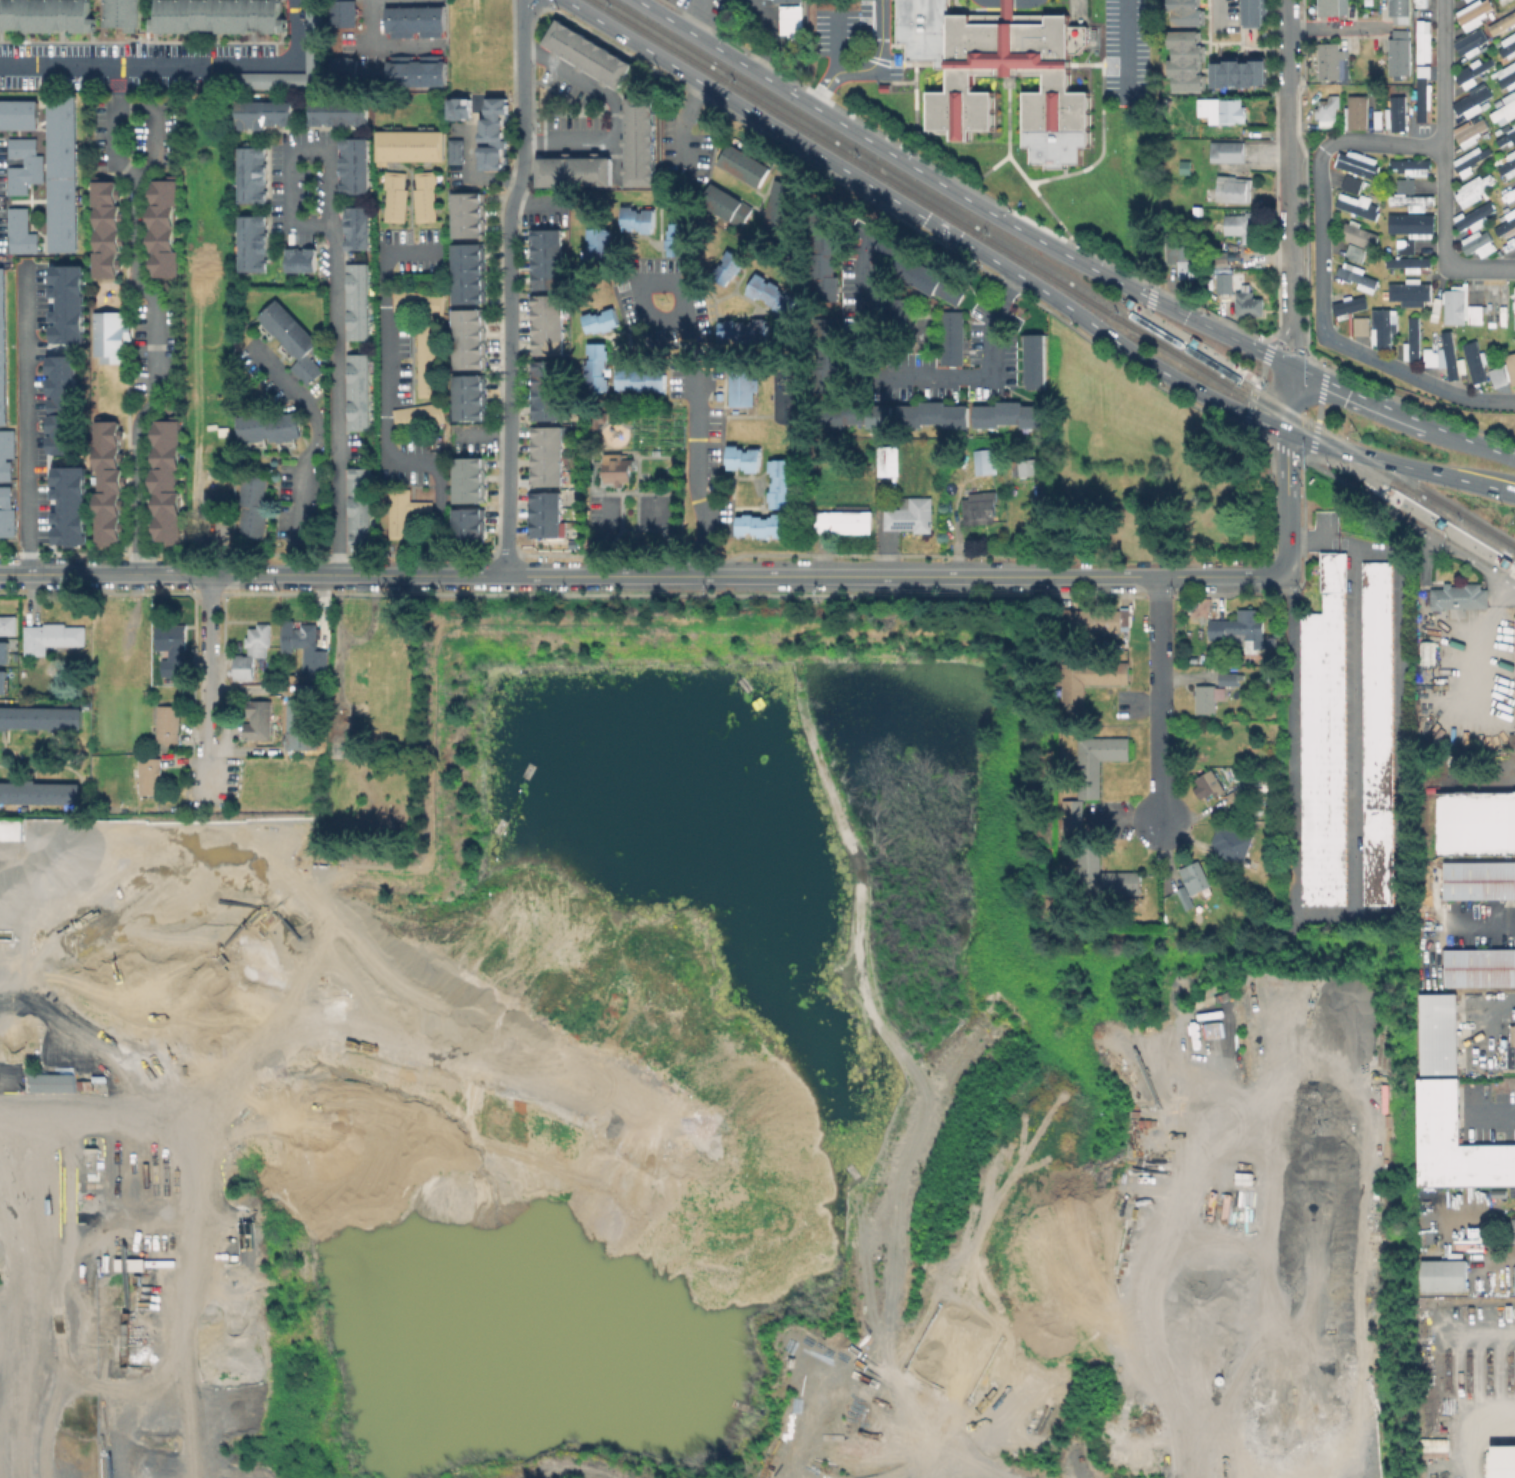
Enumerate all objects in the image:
building: (794, 0)
building: (1418, 3)
building: (1331, 7)
building: (1185, 11)
road: (1215, 11)
building: (1398, 11)
building: (126, 13)
building: (345, 13)
building: (1253, 13)
building: (1472, 13)
building: (46, 15)
building: (218, 15)
road: (702, 18)
building: (413, 21)
building: (793, 23)
building: (315, 27)
road: (1334, 28)
parking lot: (843, 29)
road: (761, 35)
building: (492, 37)
building: (1421, 40)
building: (1468, 42)
road: (836, 43)
road: (372, 44)
building: (1507, 46)
parking lot: (1124, 47)
building: (6, 49)
building: (84, 49)
building: (211, 49)
road: (1127, 51)
building: (1397, 53)
building: (590, 54)
building: (1184, 60)
building: (1331, 62)
road: (181, 64)
road: (867, 68)
building: (415, 70)
building: (999, 72)
building: (1471, 72)
building: (1237, 73)
building: (1504, 75)
building: (17, 80)
building: (95, 83)
building: (151, 84)
road: (916, 85)
building: (1421, 93)
building: (457, 108)
building: (1504, 108)
road: (614, 110)
building: (1221, 110)
building: (1328, 110)
building: (1358, 113)
building: (1396, 113)
building: (19, 114)
building: (262, 114)
road: (524, 116)
building: (337, 118)
road: (1009, 118)
building: (1468, 131)
building: (493, 134)
building: (1506, 134)
road: (1103, 136)
building: (408, 145)
building: (642, 145)
building: (454, 150)
building: (1228, 151)
railway: (865, 153)
road: (1287, 155)
building: (1471, 158)
building: (1356, 163)
building: (27, 164)
building: (743, 164)
building: (1508, 164)
building: (352, 165)
building: (1186, 166)
building: (1407, 166)
road: (1445, 166)
building: (576, 171)
building: (64, 172)
road: (473, 172)
building: (251, 174)
road: (1028, 179)
road: (961, 181)
building: (1350, 183)
building: (1403, 184)
building: (1234, 190)
building: (1472, 190)
road: (1133, 191)
road: (959, 194)
building: (423, 195)
building: (393, 196)
railway: (918, 197)
building: (724, 204)
building: (780, 204)
building: (1356, 205)
building: (1197, 214)
building: (470, 215)
building: (1474, 216)
building: (636, 218)
road: (925, 218)
building: (1505, 222)
building: (107, 224)
building: (1410, 224)
building: (165, 225)
building: (1243, 226)
building: (356, 228)
building: (22, 231)
building: (1358, 236)
building: (677, 239)
building: (252, 243)
building: (1477, 243)
building: (596, 244)
building: (1403, 246)
building: (886, 247)
building: (1353, 252)
building: (828, 256)
building: (300, 259)
building: (548, 259)
building: (1406, 262)
building: (1183, 263)
building: (727, 267)
building: (471, 274)
building: (1358, 279)
building: (931, 281)
building: (1225, 281)
road: (1322, 281)
road: (672, 285)
building: (1409, 292)
building: (770, 294)
road: (337, 295)
road: (1150, 296)
railway: (1127, 297)
building: (357, 301)
building: (417, 301)
building: (67, 303)
building: (1249, 303)
building: (1348, 305)
building: (1458, 306)
building: (1514, 306)
road: (157, 313)
building: (900, 318)
building: (599, 320)
building: (1358, 325)
building: (1382, 325)
building: (548, 327)
building: (741, 330)
road: (1000, 331)
building: (111, 336)
building: (953, 338)
road: (1296, 338)
building: (471, 339)
road: (1281, 339)
building: (291, 340)
building: (1411, 340)
railway: (1184, 346)
road: (1200, 346)
road: (1289, 348)
building: (3, 349)
road: (866, 349)
building: (828, 355)
building: (1441, 355)
building: (426, 358)
building: (1036, 361)
building: (1473, 361)
road: (1314, 363)
building: (1510, 366)
building: (595, 367)
traffic signals: (1295, 368)
building: (1496, 375)
building: (639, 379)
road: (1257, 385)
building: (740, 387)
building: (357, 391)
building: (549, 391)
road: (1359, 396)
building: (471, 398)
road: (1292, 400)
road: (510, 403)
building: (60, 404)
road: (1319, 412)
road: (384, 413)
building: (1011, 414)
building: (417, 415)
building: (894, 415)
road: (26, 420)
road: (622, 421)
building: (267, 427)
traffic signals: (1289, 432)
road: (694, 435)
railway: (1330, 435)
railway: (1316, 438)
road: (1469, 442)
road: (1278, 446)
road: (1327, 446)
road: (309, 450)
building: (6, 454)
building: (548, 457)
building: (743, 458)
building: (983, 460)
building: (891, 462)
building: (1028, 466)
building: (621, 469)
road: (674, 470)
road: (603, 471)
road: (591, 472)
building: (225, 473)
road: (1440, 475)
building: (472, 479)
building: (169, 480)
building: (109, 483)
building: (780, 483)
road: (1353, 487)
park: (633, 488)
railway: (1415, 498)
railway: (1385, 501)
road: (1287, 504)
building: (216, 505)
building: (69, 506)
building: (251, 506)
building: (358, 506)
building: (979, 509)
building: (7, 511)
building: (404, 512)
road: (1413, 513)
building: (911, 515)
railway: (1464, 515)
building: (550, 516)
building: (848, 520)
building: (763, 524)
rooftop solar panel: (902, 524)
building: (473, 528)
railway: (1477, 535)
road: (668, 536)
road: (615, 540)
road: (1459, 550)
railway: (1513, 557)
road: (525, 577)
road: (1168, 579)
building: (1460, 597)
building: (1095, 620)
building: (6, 624)
rooftop solar panel: (52, 628)
building: (1242, 630)
building: (308, 636)
building: (53, 637)
building: (259, 640)
building: (3, 646)
building: (172, 647)
building: (1428, 651)
building: (3, 657)
building: (322, 660)
road: (212, 666)
building: (245, 669)
building: (1229, 675)
building: (364, 676)
building: (1089, 679)
building: (2, 681)
building: (1206, 699)
road: (1163, 703)
building: (39, 718)
building: (262, 719)
building: (167, 724)
building: (307, 725)
building: (1376, 732)
building: (1323, 740)
building: (344, 749)
building: (1095, 761)
road: (1507, 769)
building: (149, 775)
building: (1210, 784)
building: (39, 793)
building: (1235, 794)
building: (1070, 821)
building: (1475, 821)
building: (11, 829)
building: (1232, 844)
building: (1195, 877)
building: (1104, 878)
building: (1478, 880)
road: (1351, 893)
building: (1186, 897)
road: (1483, 921)
building: (1479, 967)
road: (1502, 999)
building: (1437, 1033)
building: (1514, 1071)
quarry: (678, 1109)
road: (1492, 1116)
road: (110, 1121)
building: (1454, 1143)
building: (1514, 1228)
building: (1427, 1236)
road: (1504, 1266)
building: (1442, 1274)
road: (1479, 1334)
road: (1472, 1432)
building: (1432, 1447)
building: (1503, 1461)

